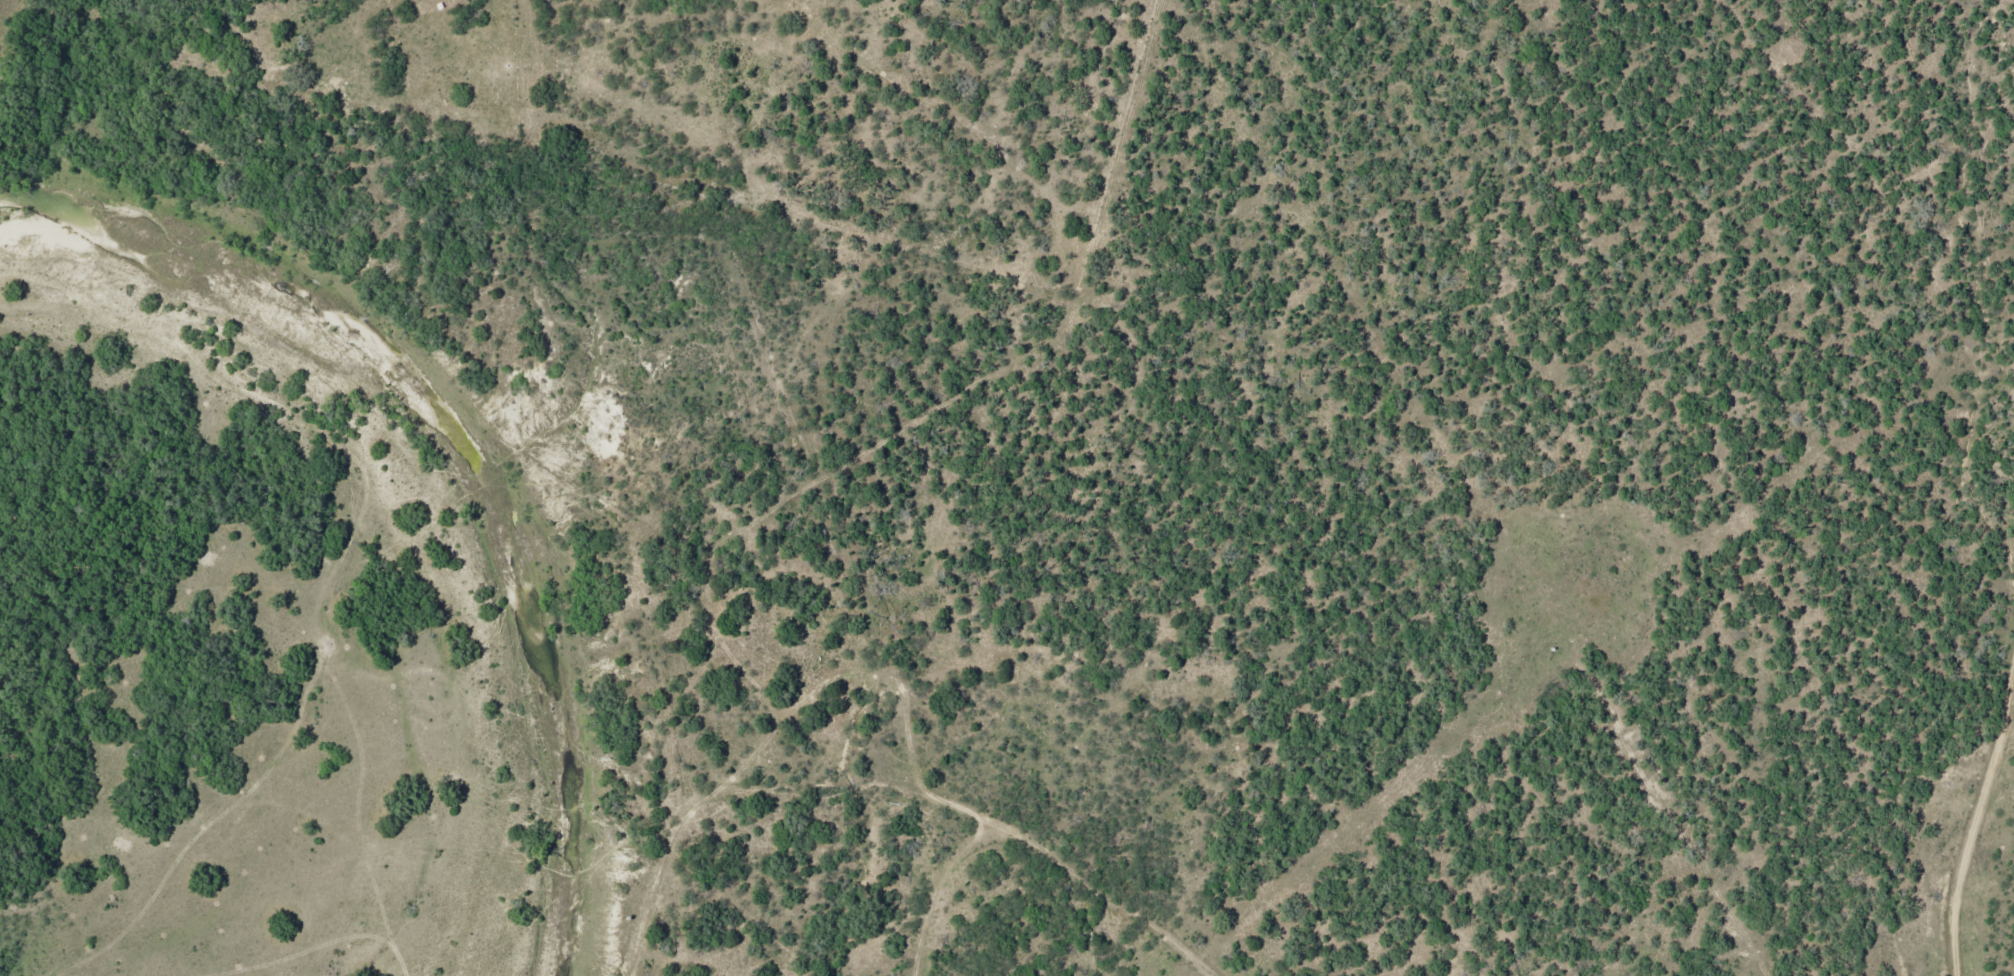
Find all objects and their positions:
road: (888, 790)
road: (1979, 828)

